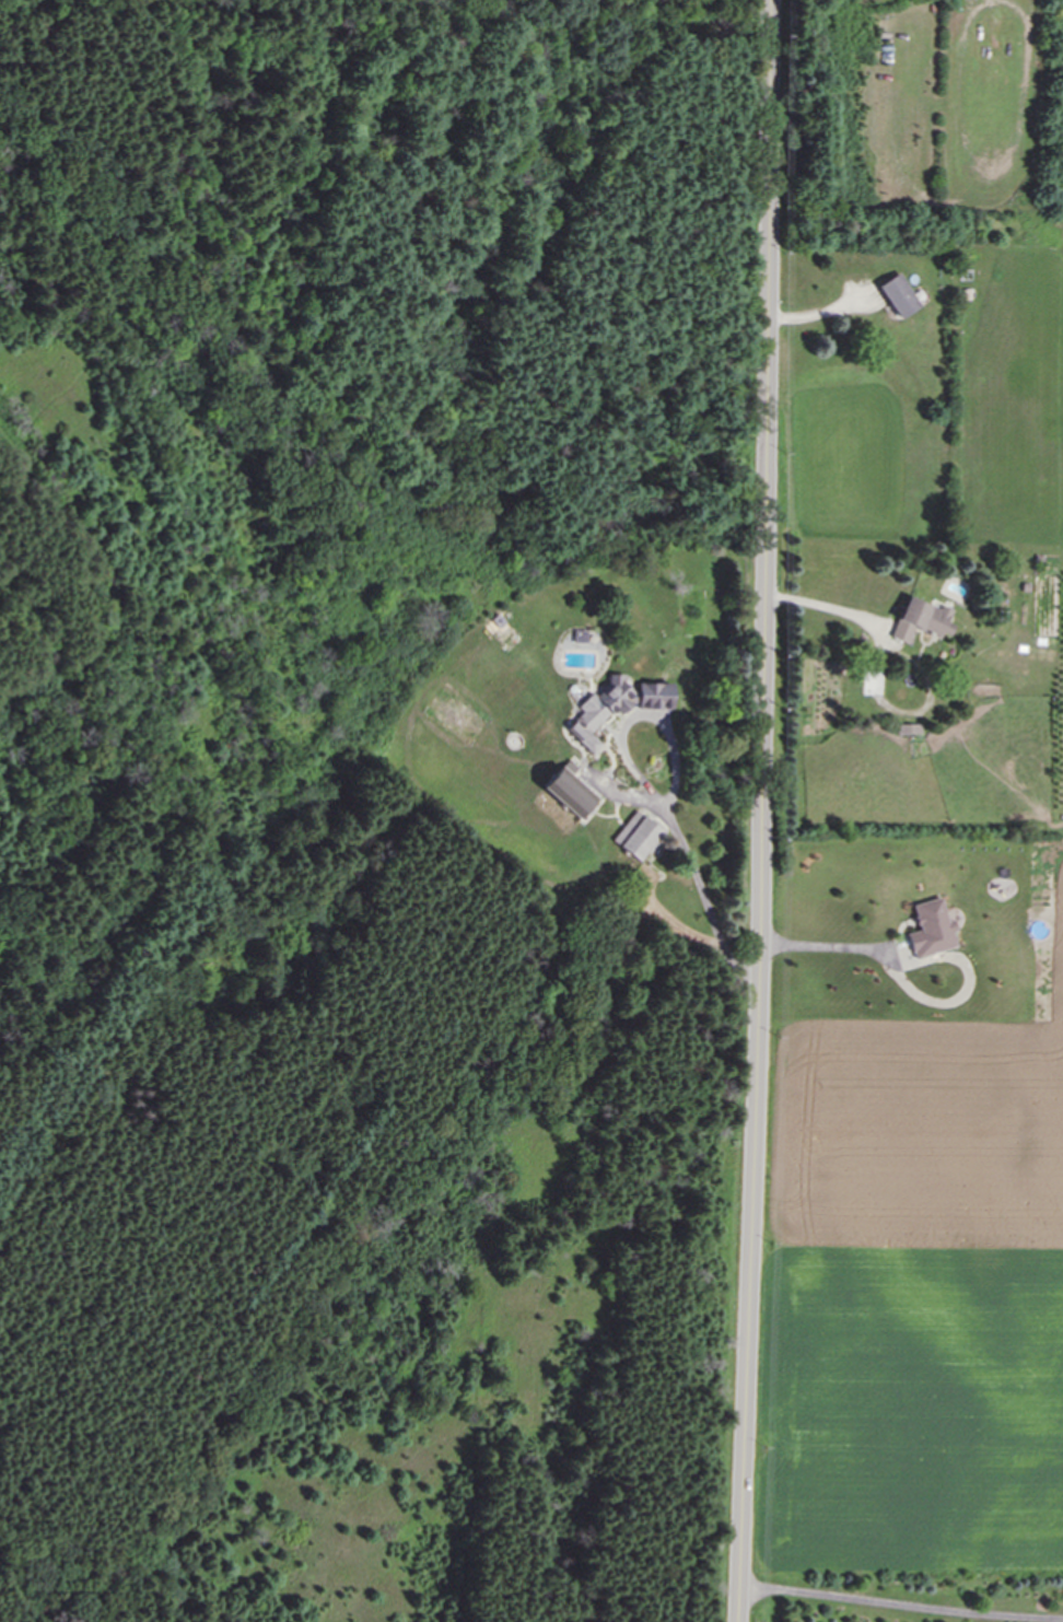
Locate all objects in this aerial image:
road: (357, 8)
road: (743, 24)
road: (226, 268)
building: (899, 295)
road: (15, 468)
road: (831, 607)
building: (920, 620)
building: (579, 637)
building: (654, 697)
building: (600, 711)
building: (909, 728)
building: (569, 790)
road: (763, 810)
building: (636, 836)
road: (700, 890)
building: (930, 929)
road: (909, 988)
crop: (915, 1302)
road: (900, 1603)

